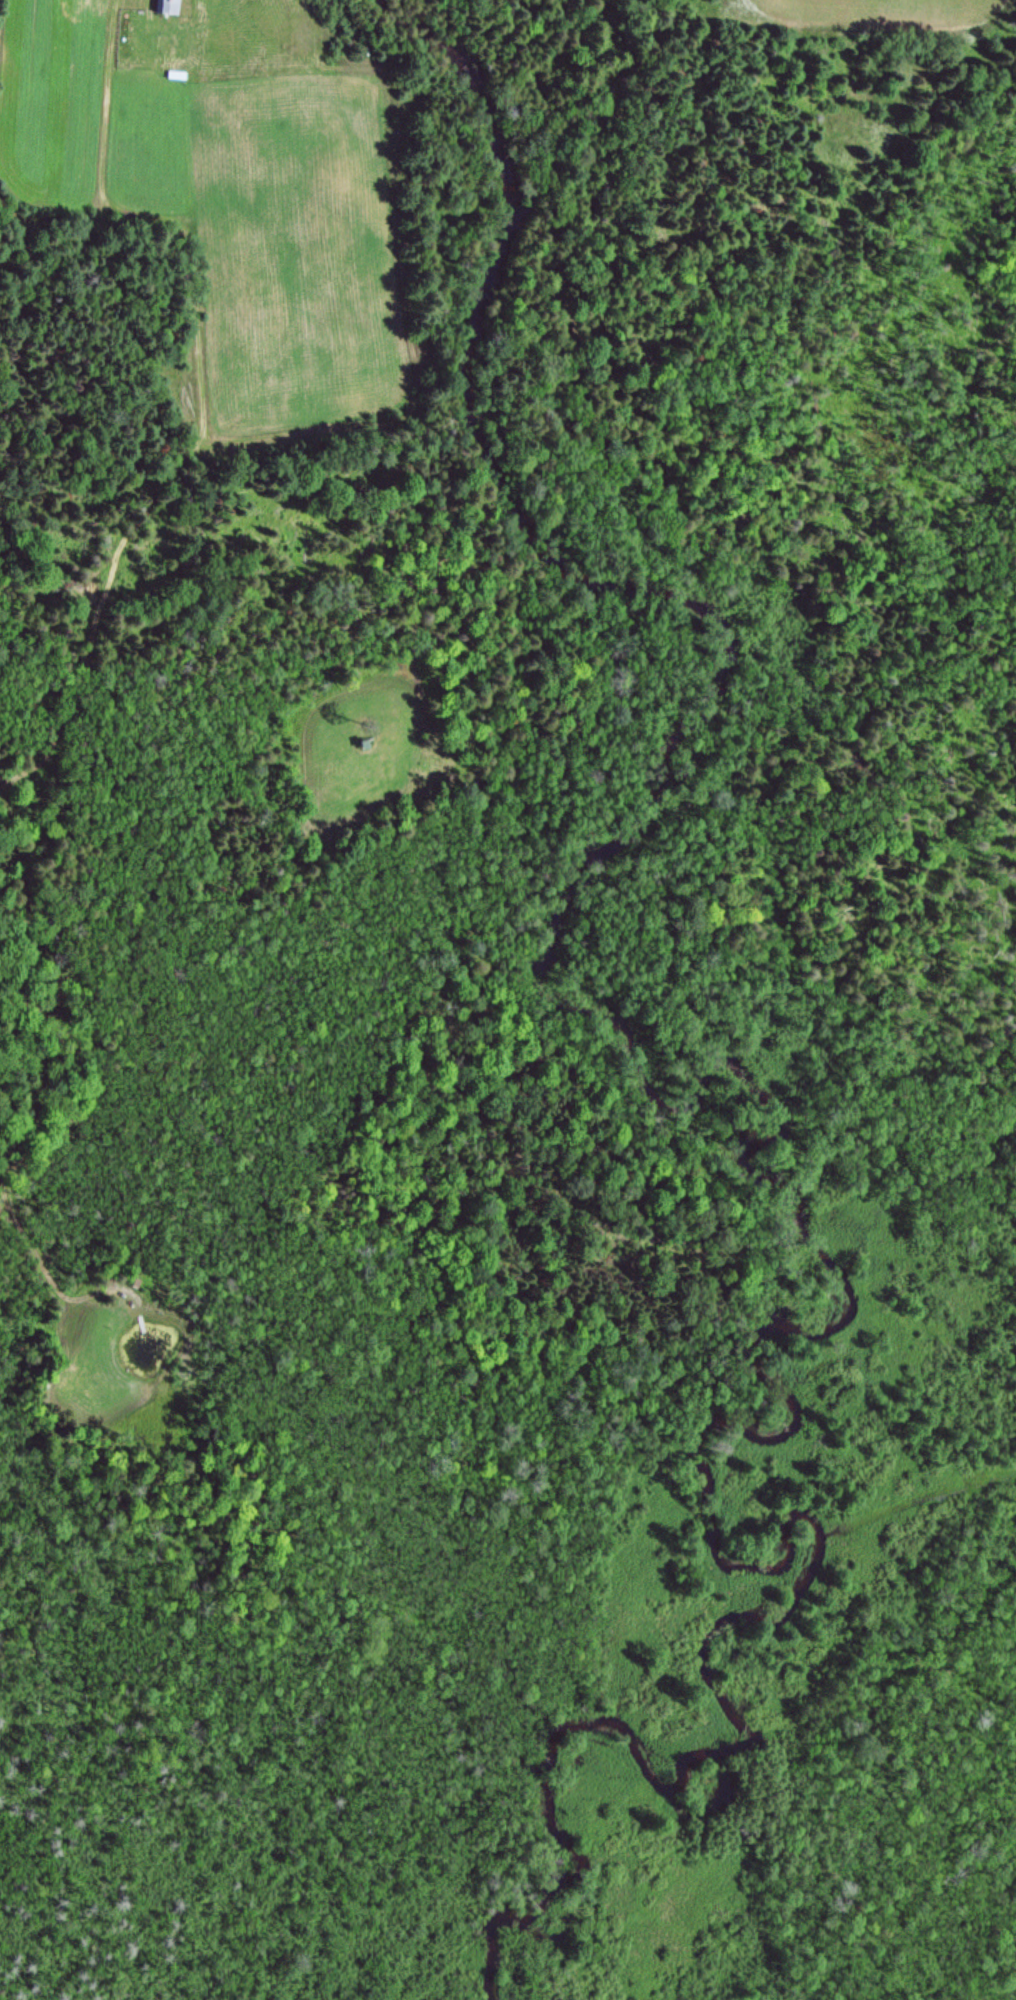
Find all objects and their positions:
building: (165, 4)
river: (781, 1130)

